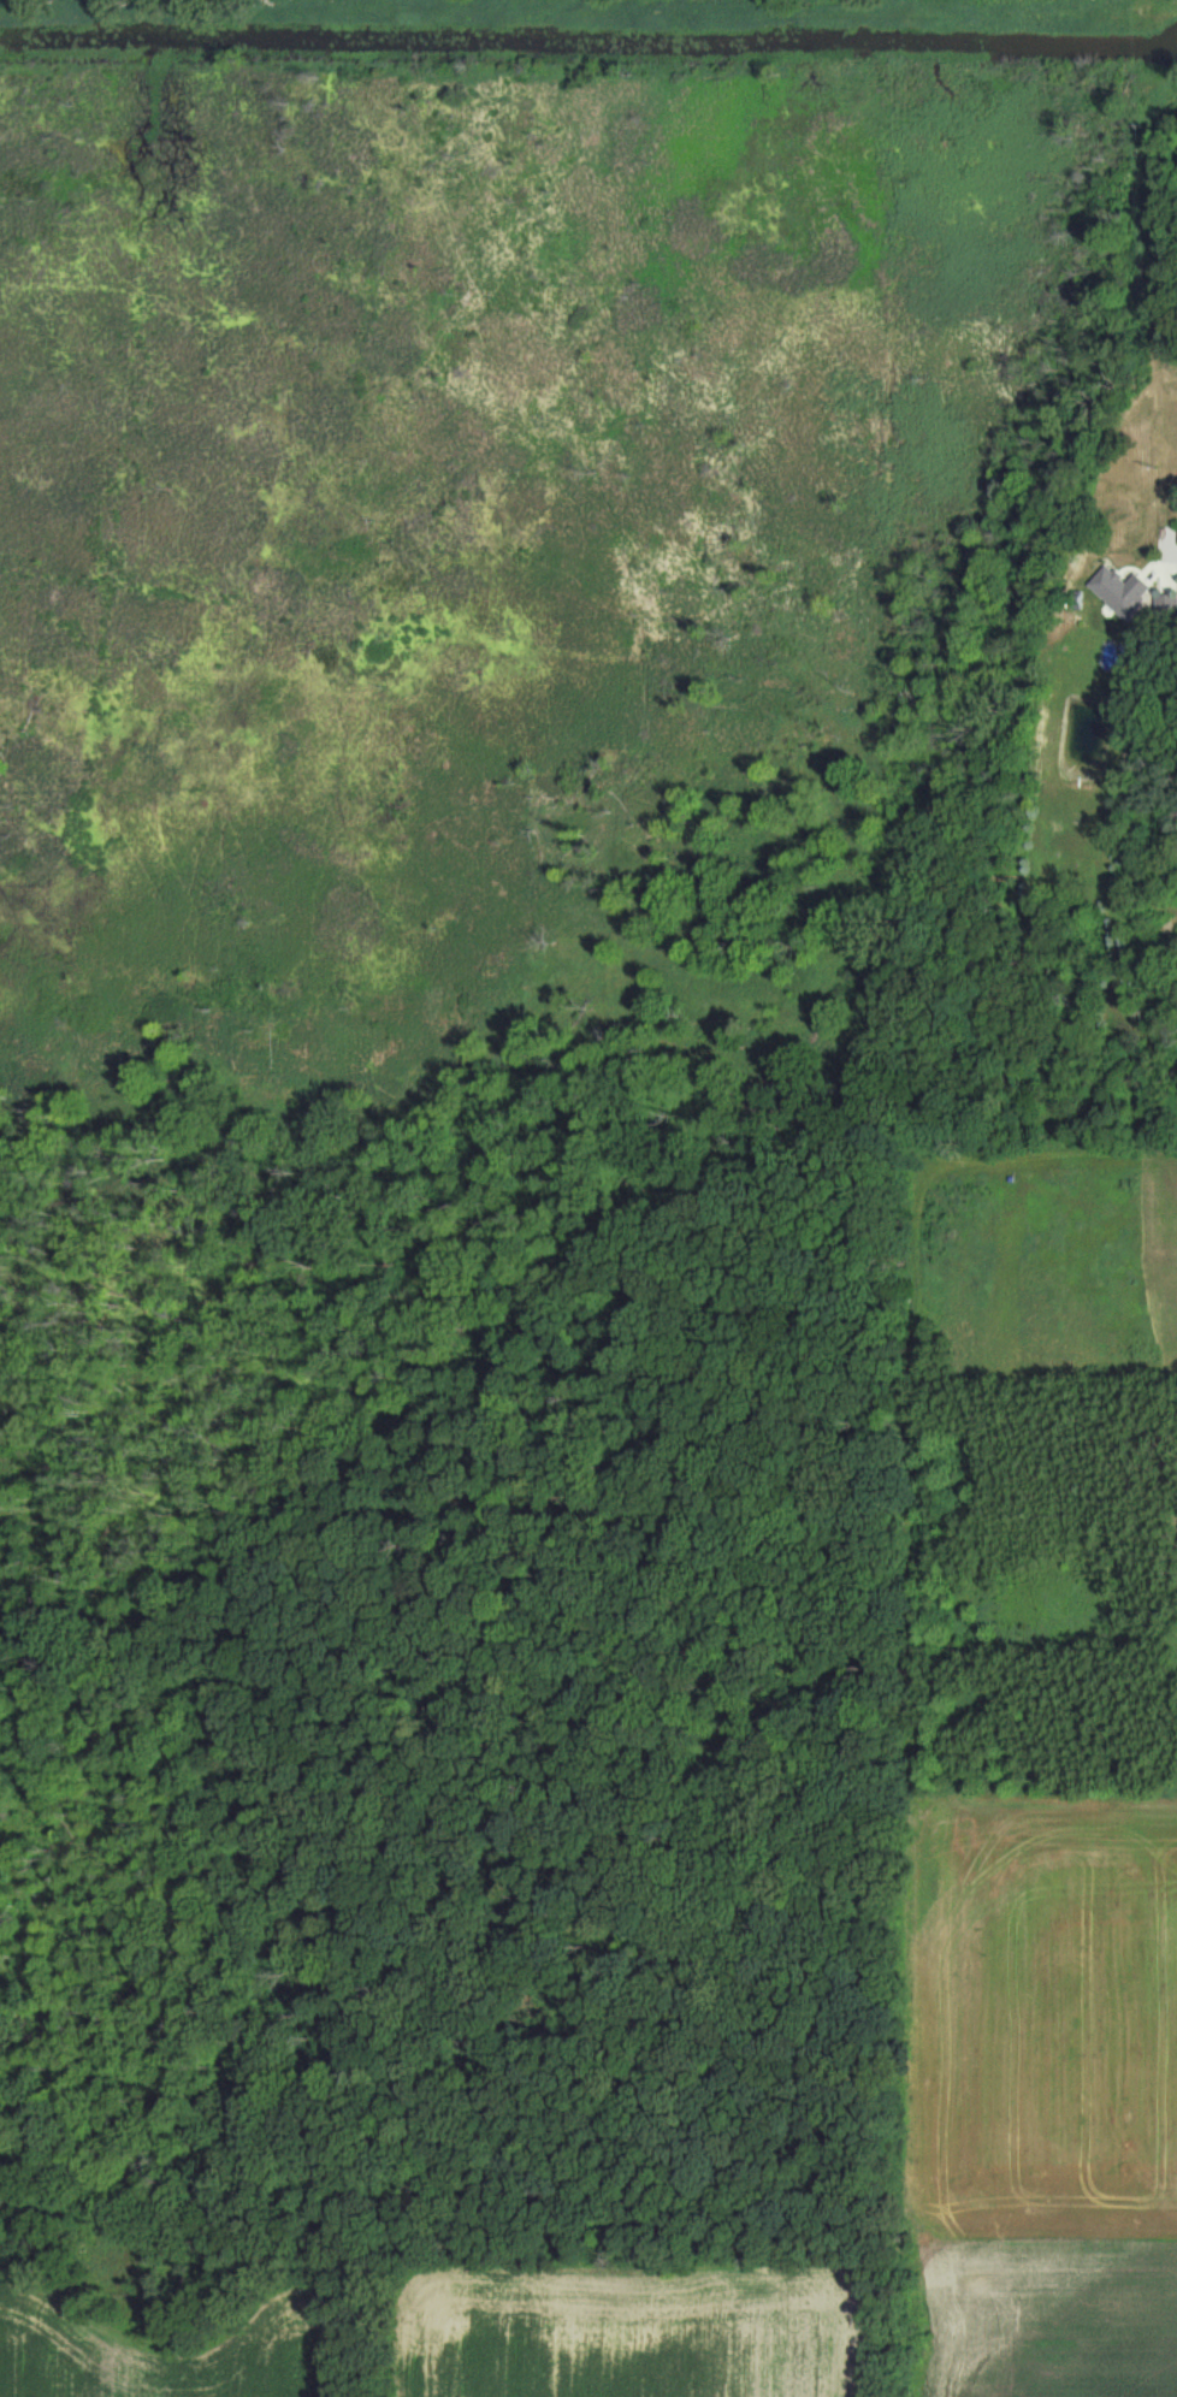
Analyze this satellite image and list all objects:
building: (1116, 590)

